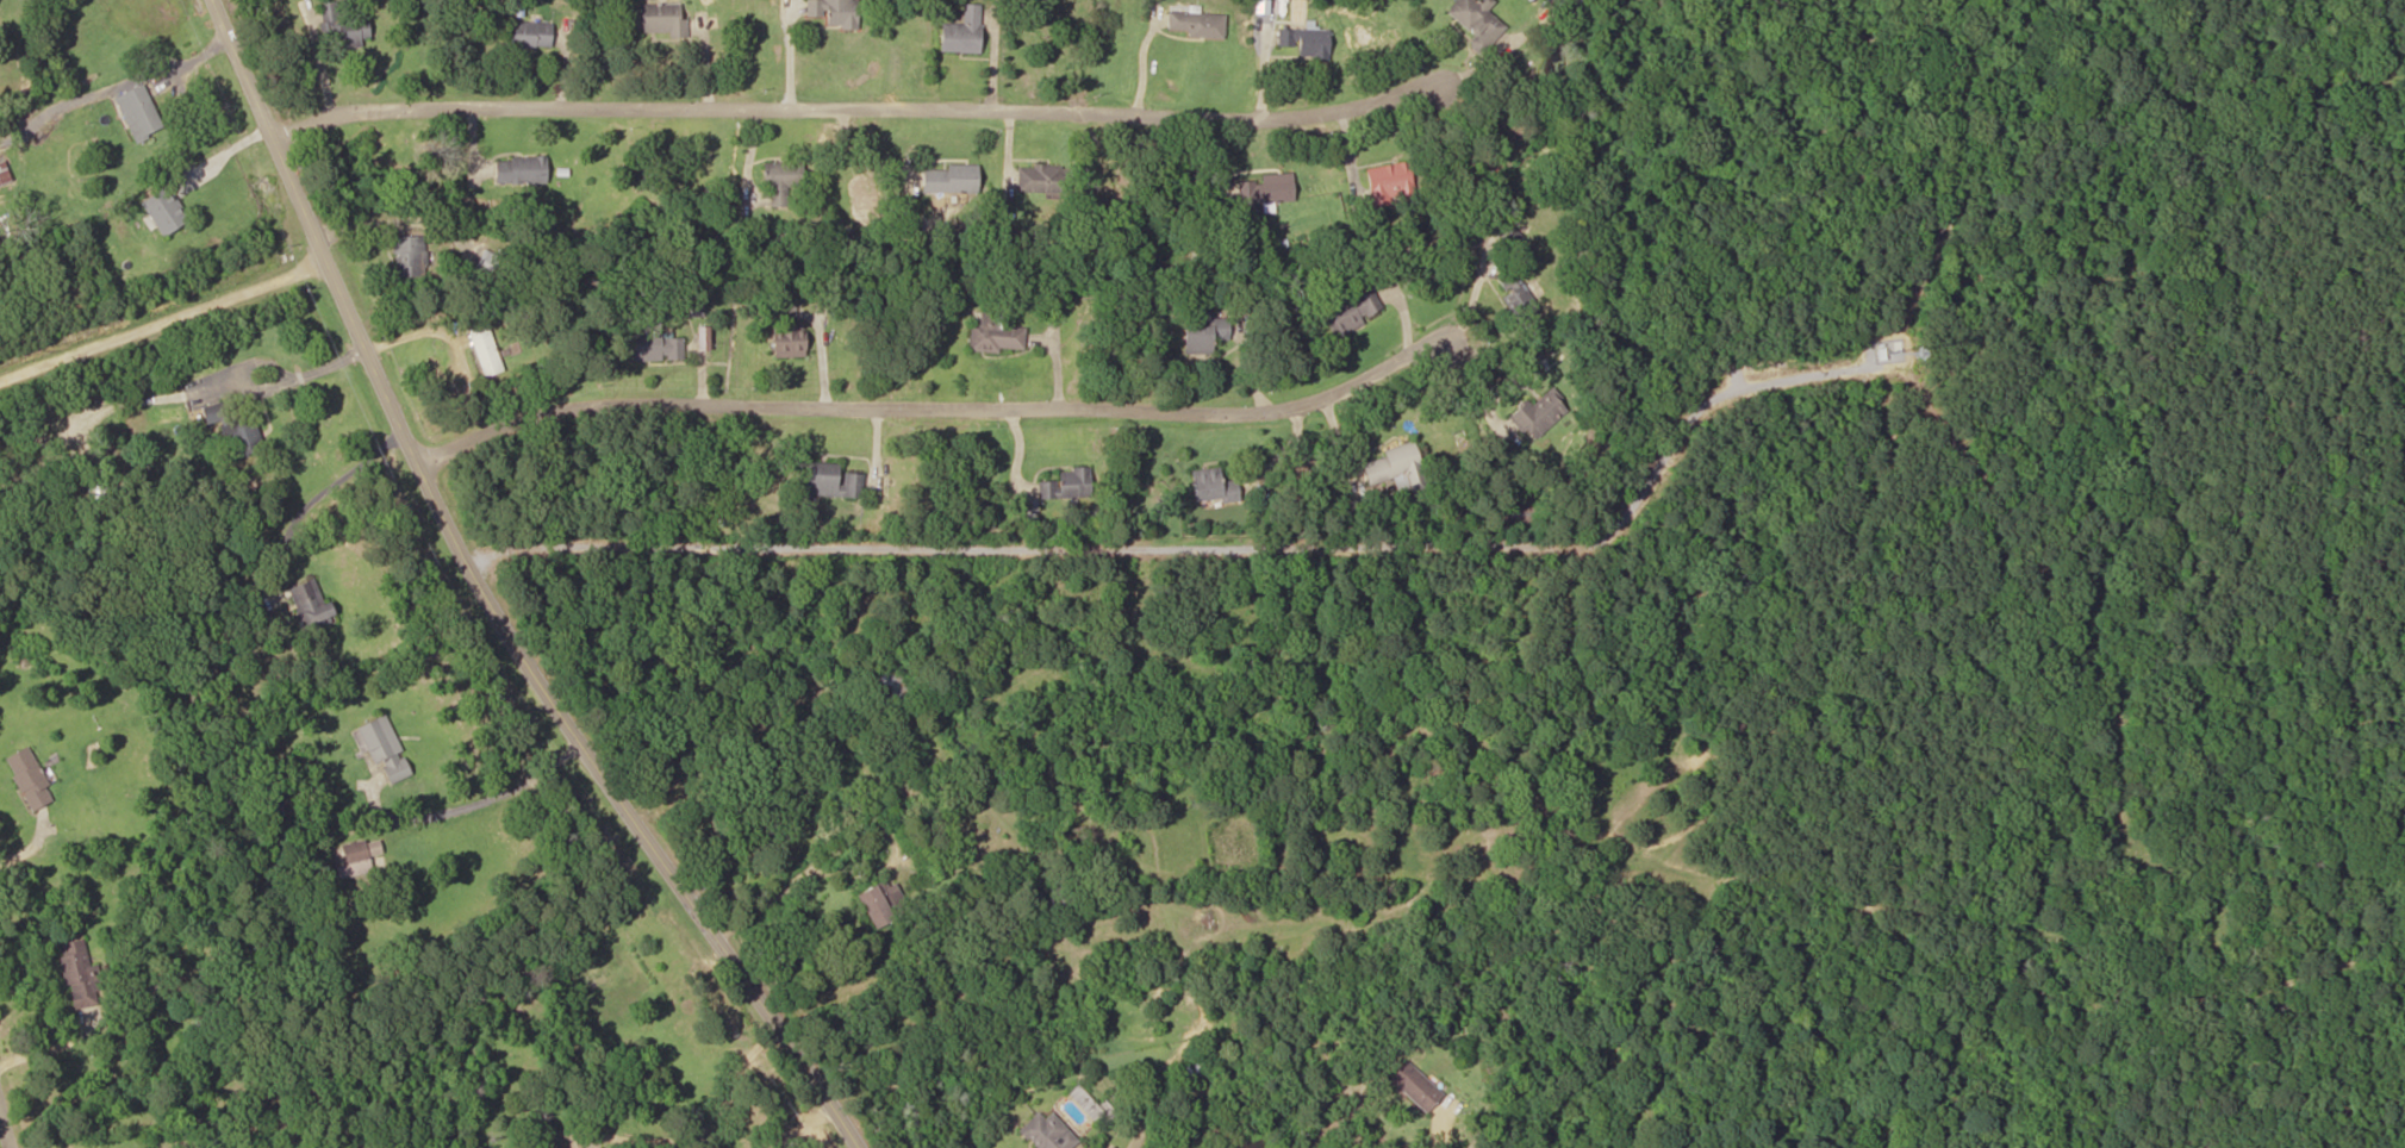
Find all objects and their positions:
building: (831, 12)
building: (660, 18)
building: (1476, 20)
building: (1194, 23)
building: (343, 25)
building: (961, 31)
building: (525, 33)
building: (1304, 40)
road: (816, 92)
building: (137, 113)
building: (519, 169)
building: (2, 174)
building: (1041, 177)
building: (947, 179)
building: (779, 180)
building: (1388, 182)
building: (1265, 188)
building: (163, 211)
building: (1506, 233)
building: (409, 256)
building: (487, 263)
building: (1515, 297)
building: (697, 305)
building: (1348, 311)
building: (1204, 332)
building: (995, 333)
building: (787, 341)
building: (652, 344)
building: (482, 350)
road: (917, 401)
building: (1538, 413)
building: (233, 431)
building: (1395, 466)
building: (829, 480)
building: (1066, 483)
building: (1210, 485)
building: (1522, 512)
road: (507, 588)
building: (310, 605)
building: (382, 751)
building: (26, 779)
building: (356, 857)
building: (879, 903)
building: (75, 973)
building: (1188, 1071)
building: (1414, 1086)
road: (6, 1121)
building: (1046, 1133)

